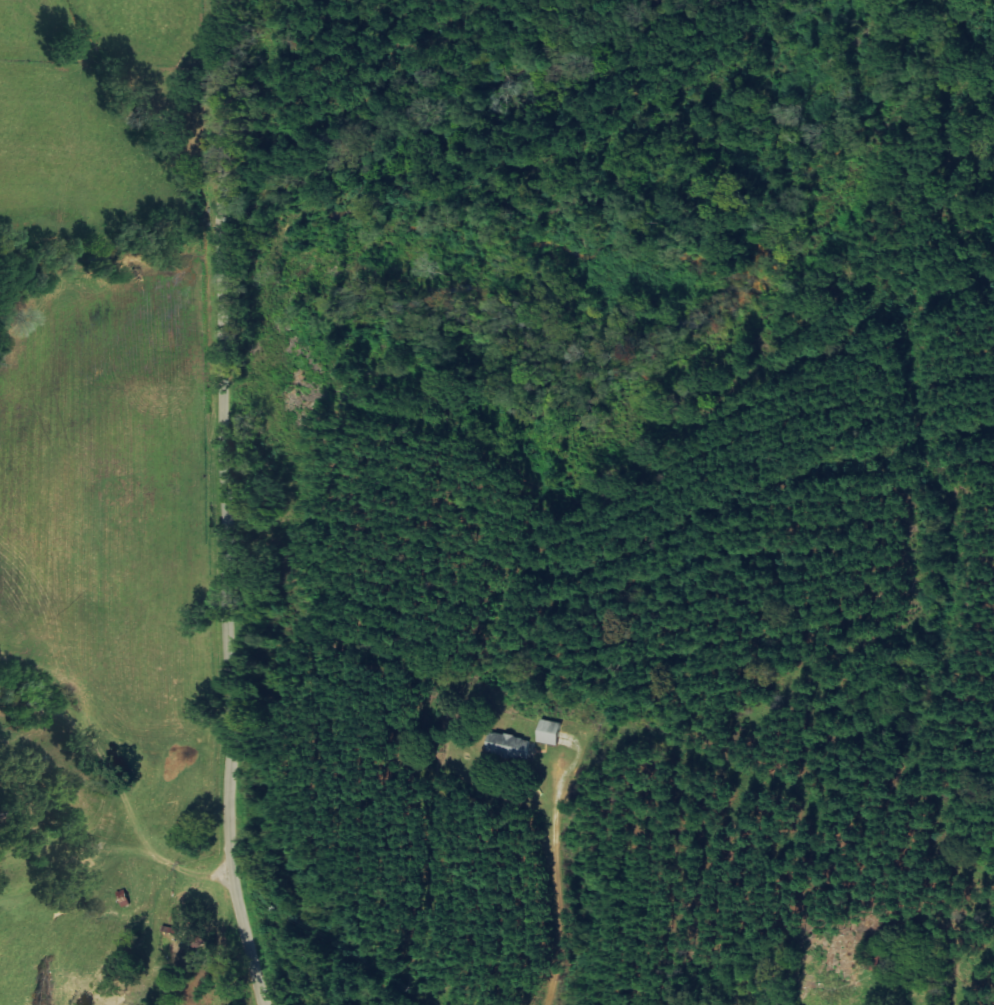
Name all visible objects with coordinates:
road: (225, 504)
building: (552, 733)

